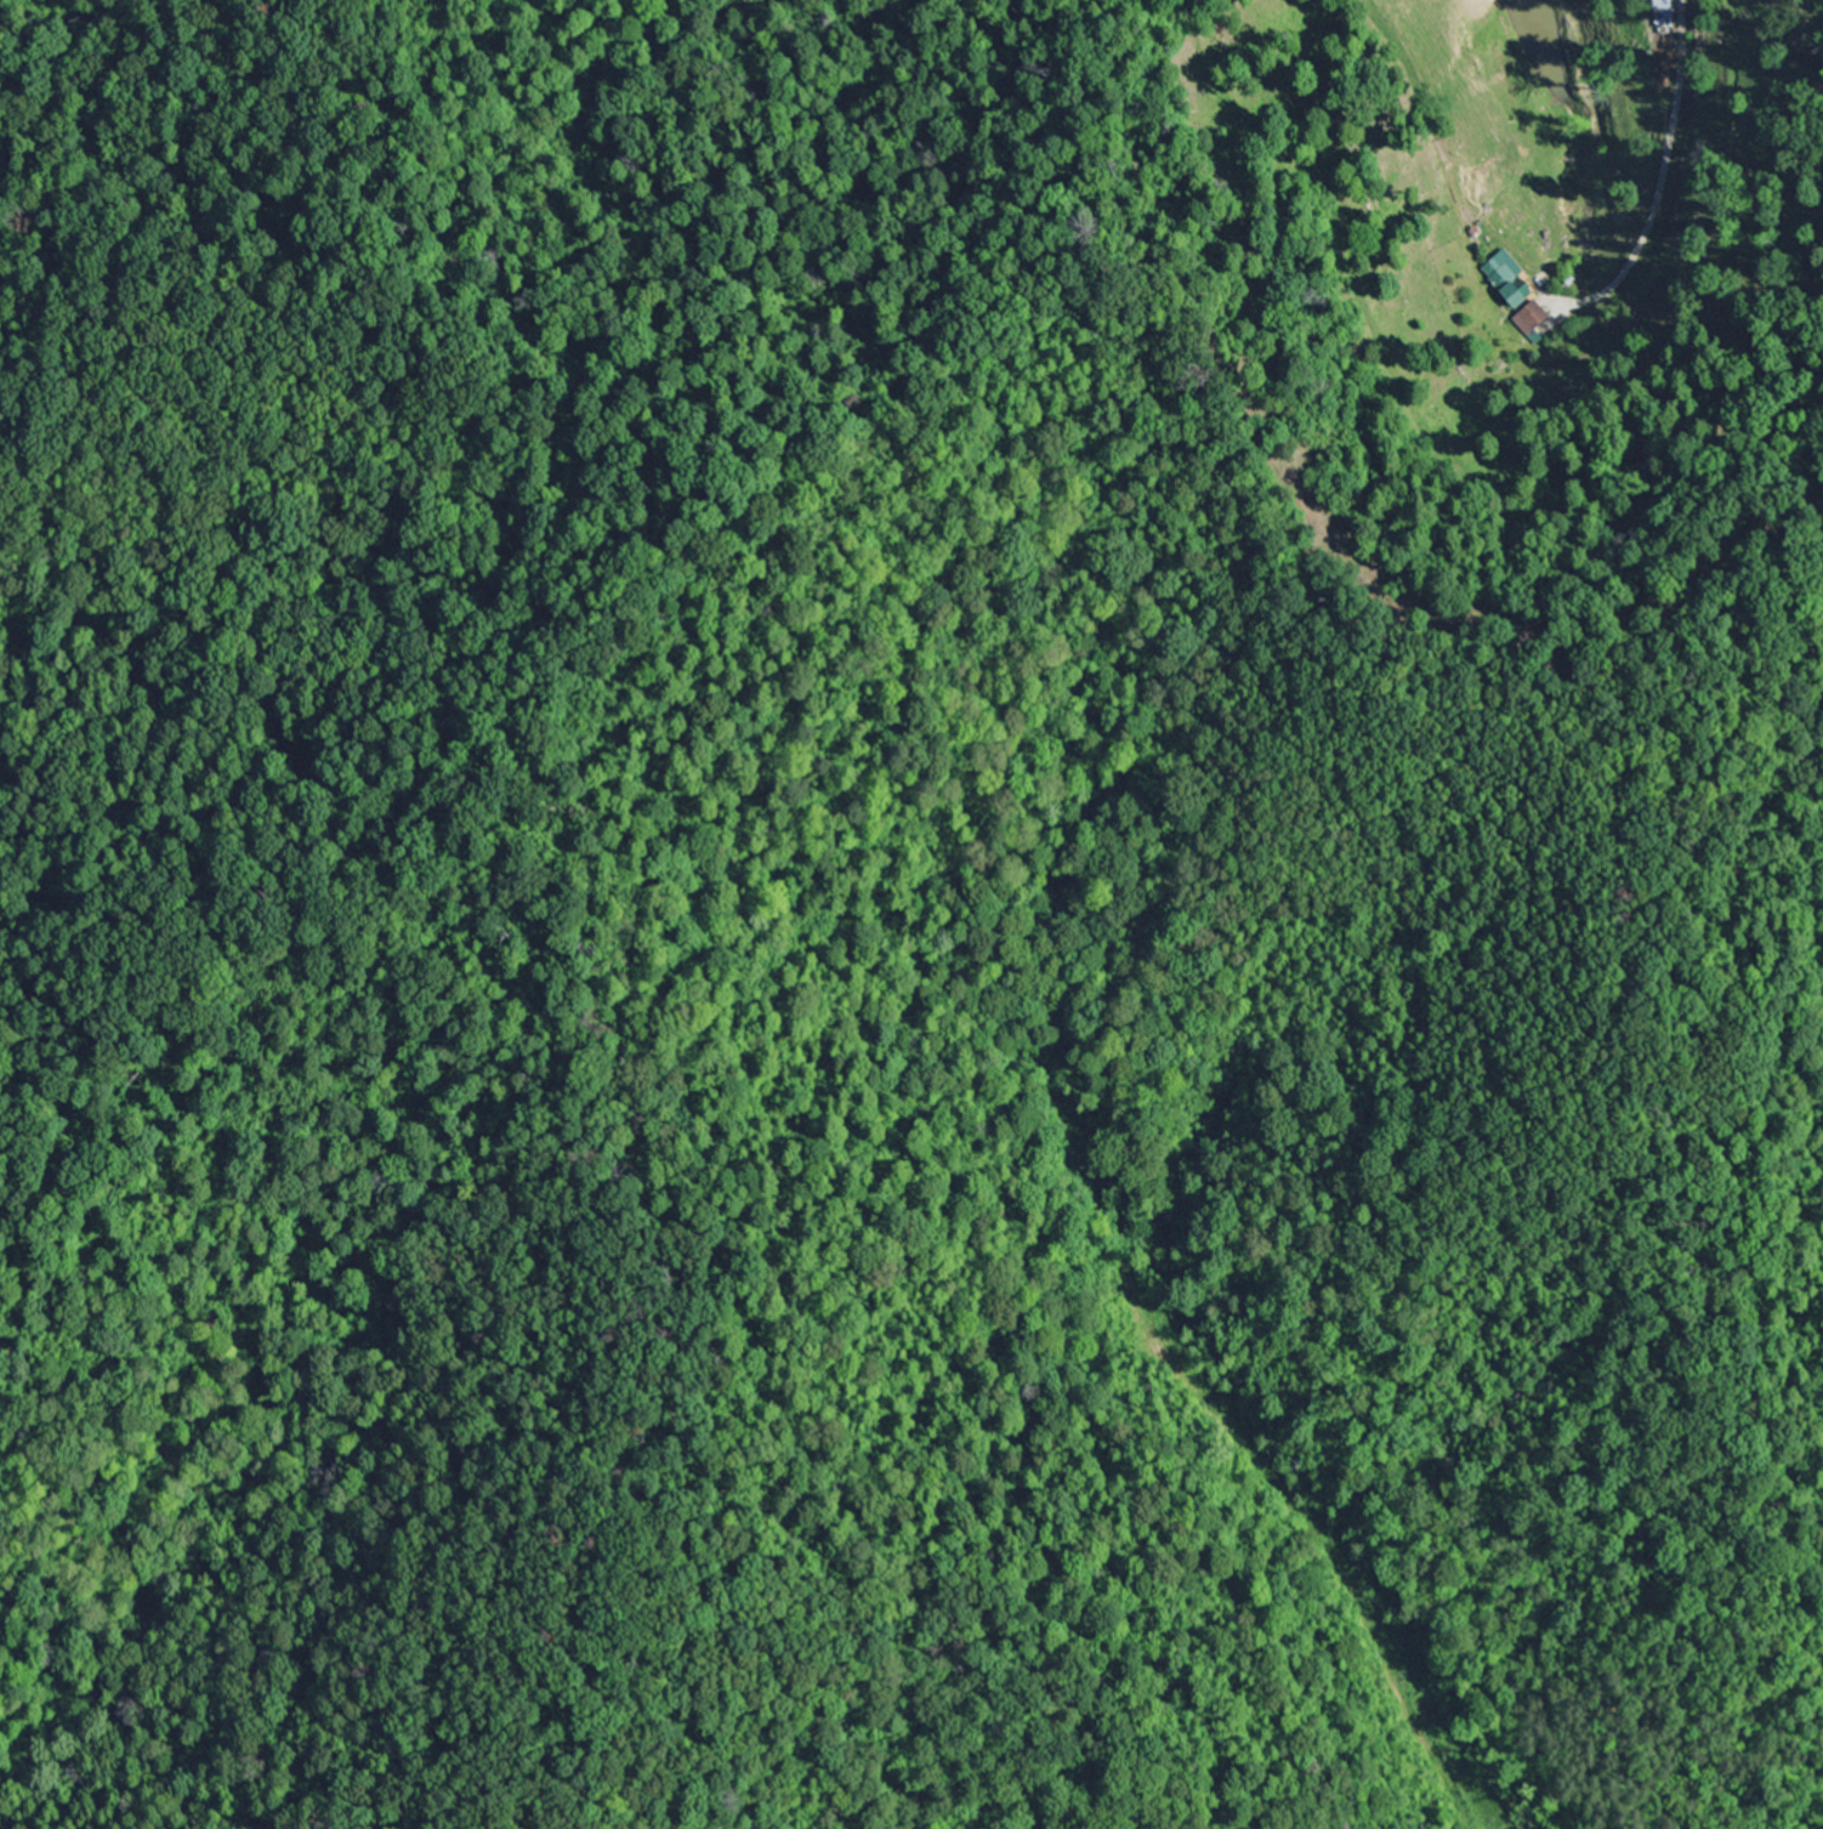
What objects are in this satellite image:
road: (1662, 175)
building: (1530, 297)

